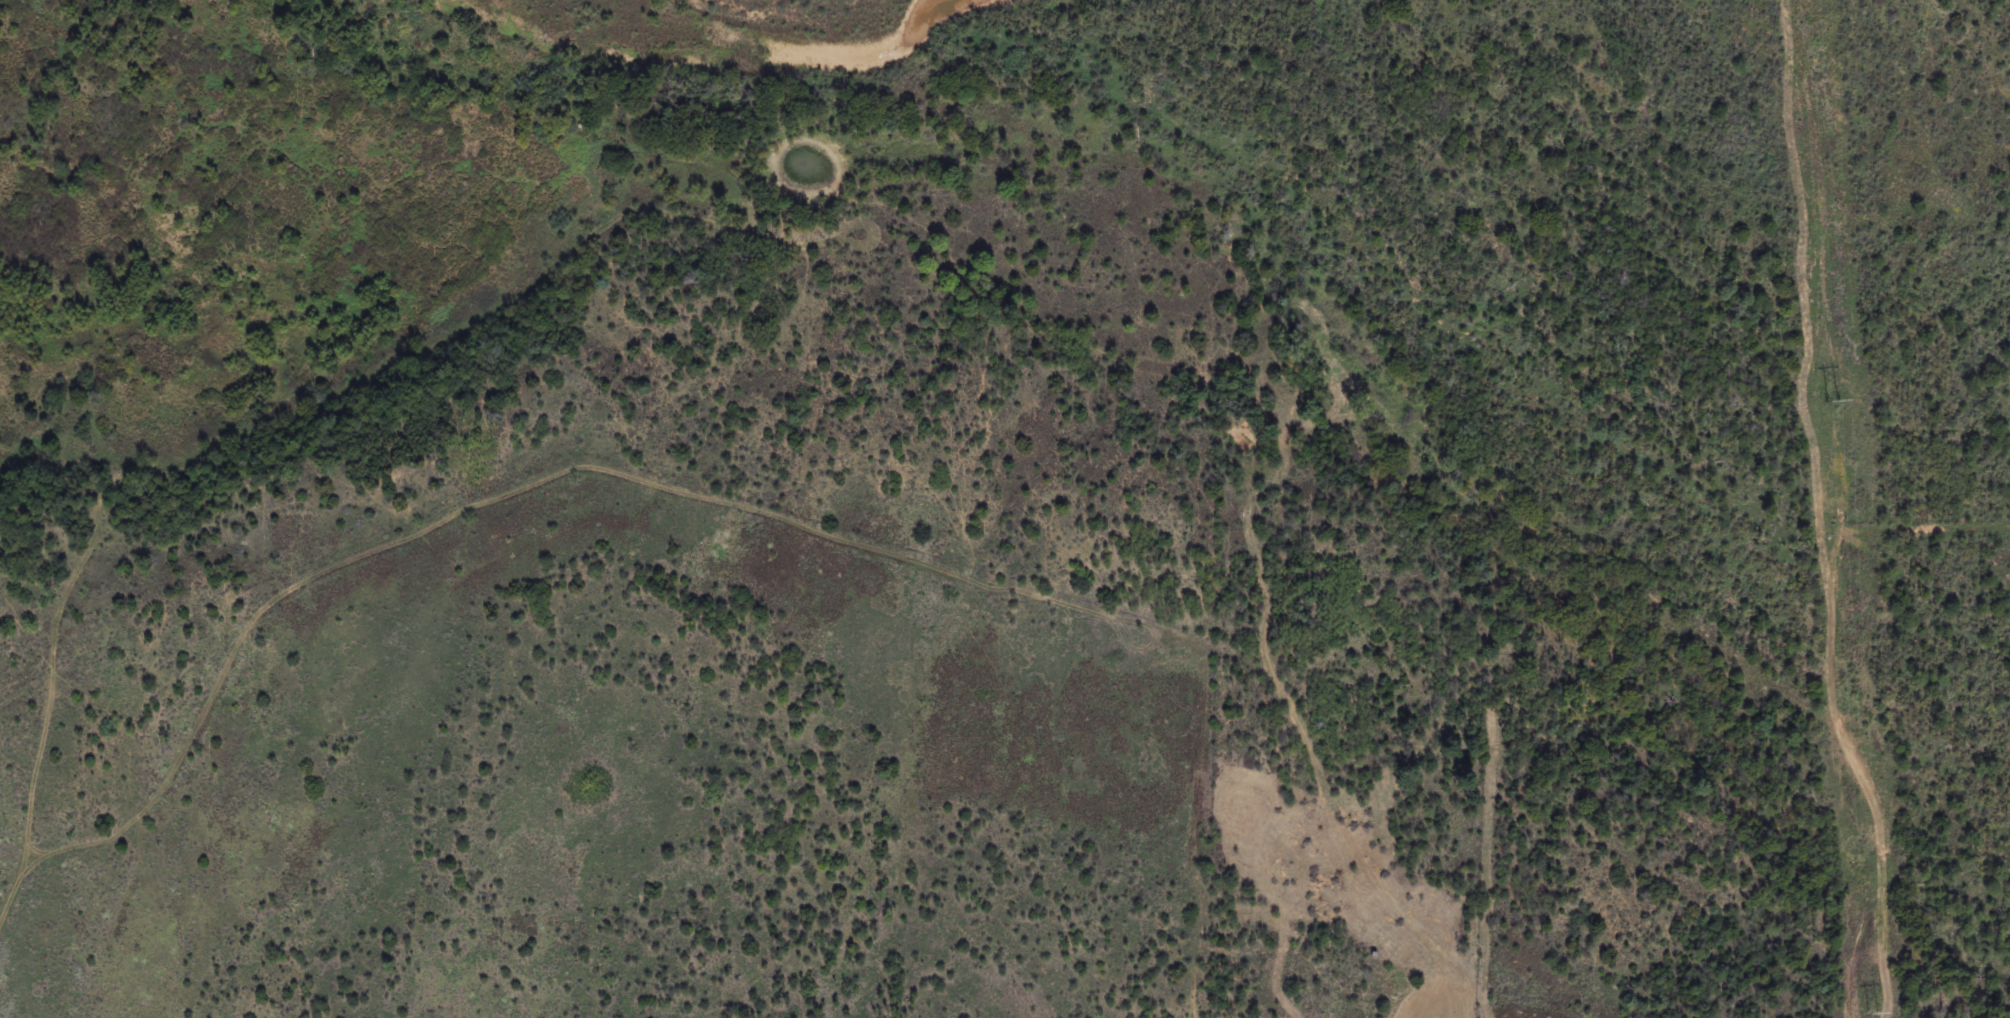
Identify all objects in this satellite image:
power tower: (1832, 401)
power tower: (1872, 1014)

